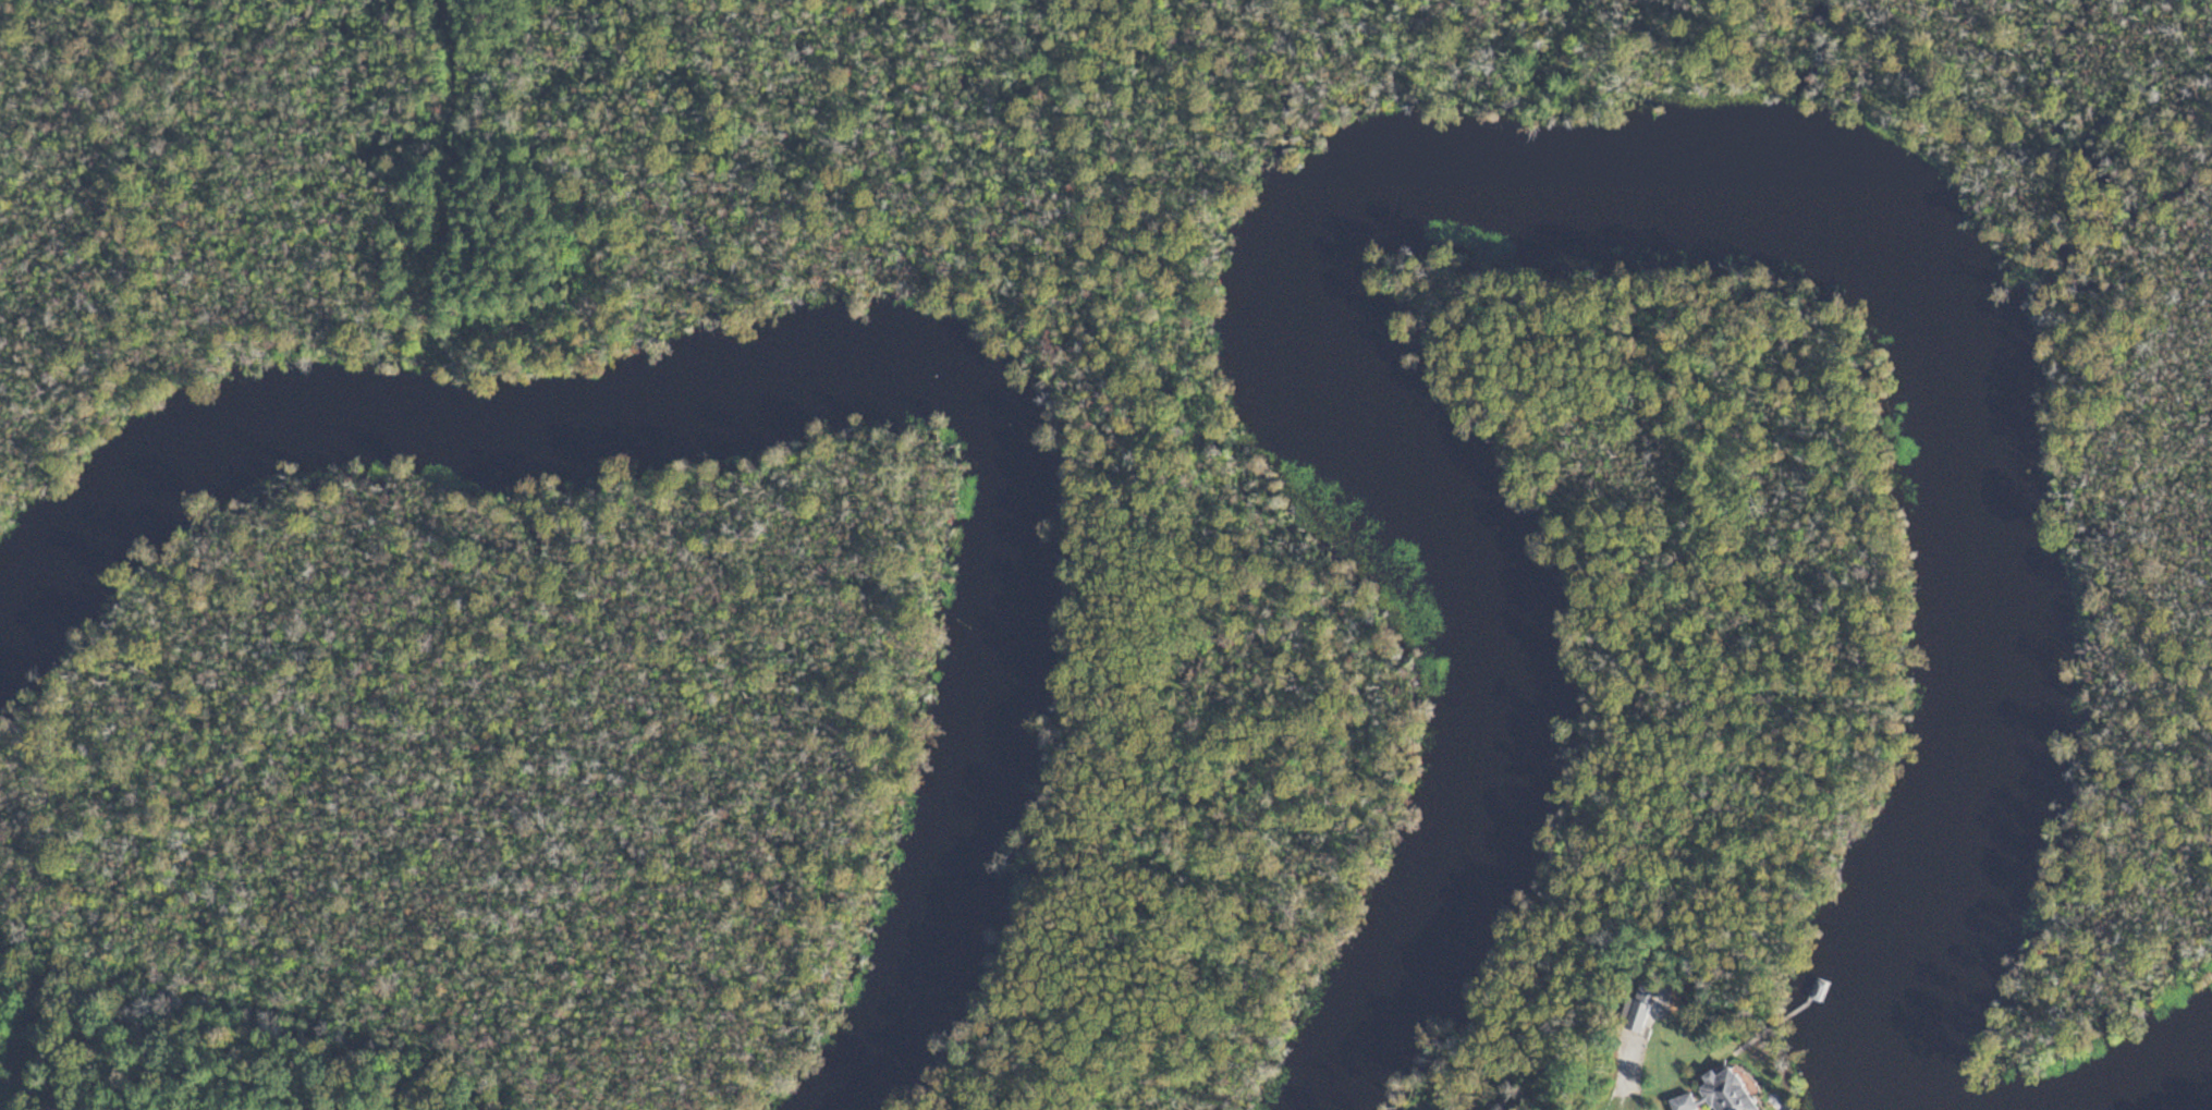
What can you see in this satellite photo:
park: (1121, 364)
park: (1701, 542)

